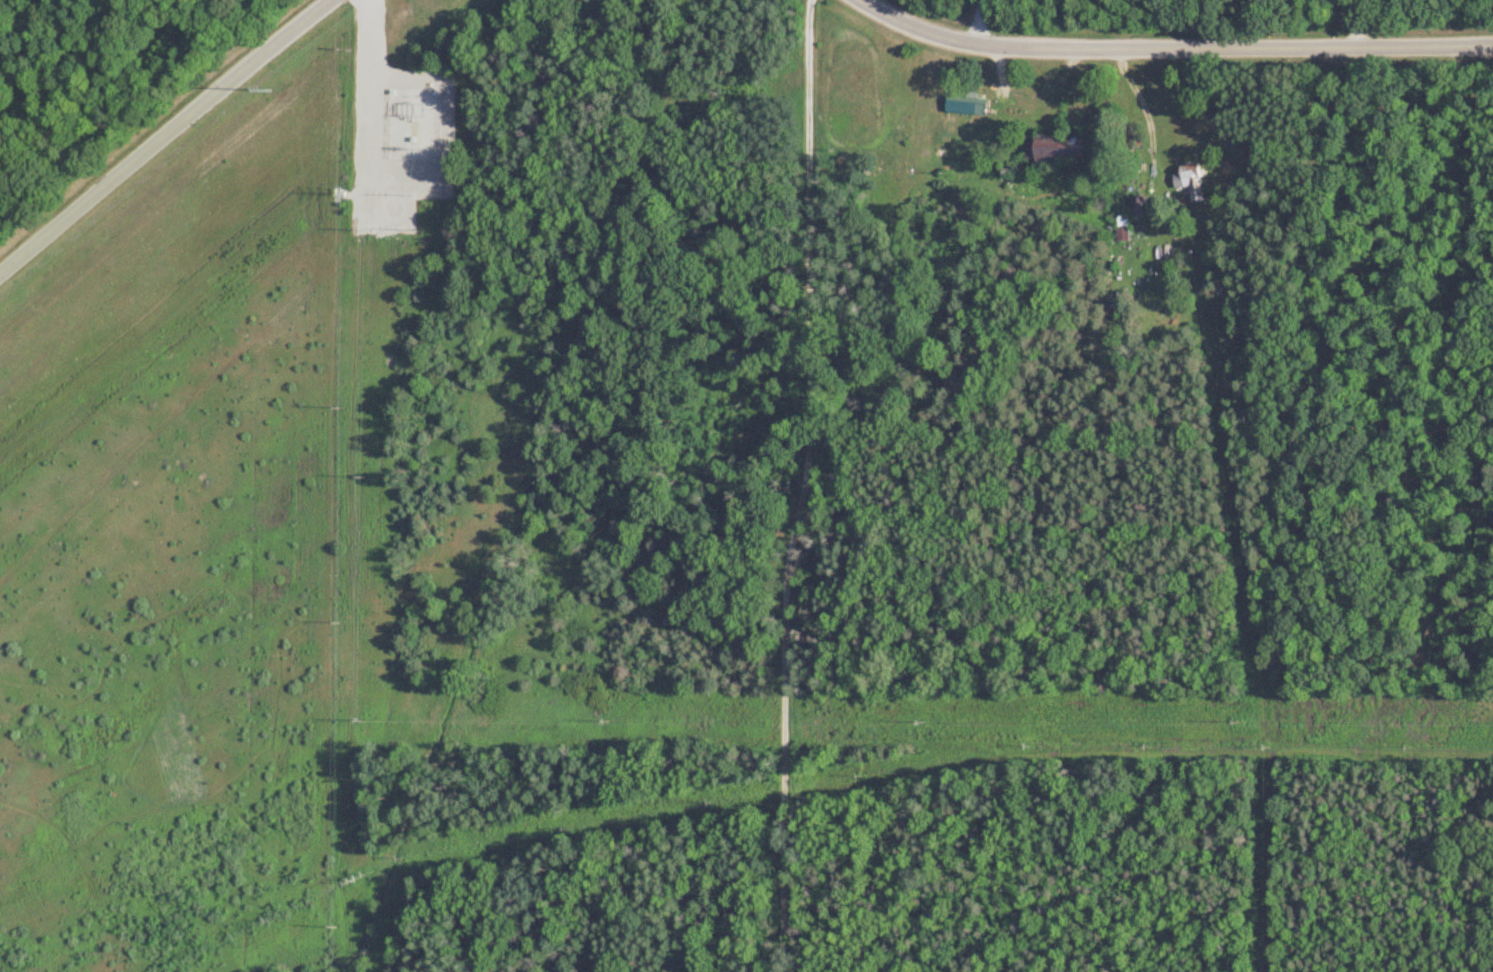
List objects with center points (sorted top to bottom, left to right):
road: (1357, 20)
road: (977, 22)
road: (1170, 48)
power tower: (341, 55)
road: (362, 77)
power tower: (257, 91)
building: (962, 106)
power substation: (413, 122)
road: (159, 127)
road: (375, 128)
building: (1053, 151)
building: (1185, 177)
power tower: (342, 195)
power tower: (408, 196)
power tower: (407, 229)
power tower: (365, 230)
power tower: (341, 332)
power tower: (368, 476)
road: (802, 486)
power tower: (355, 718)

